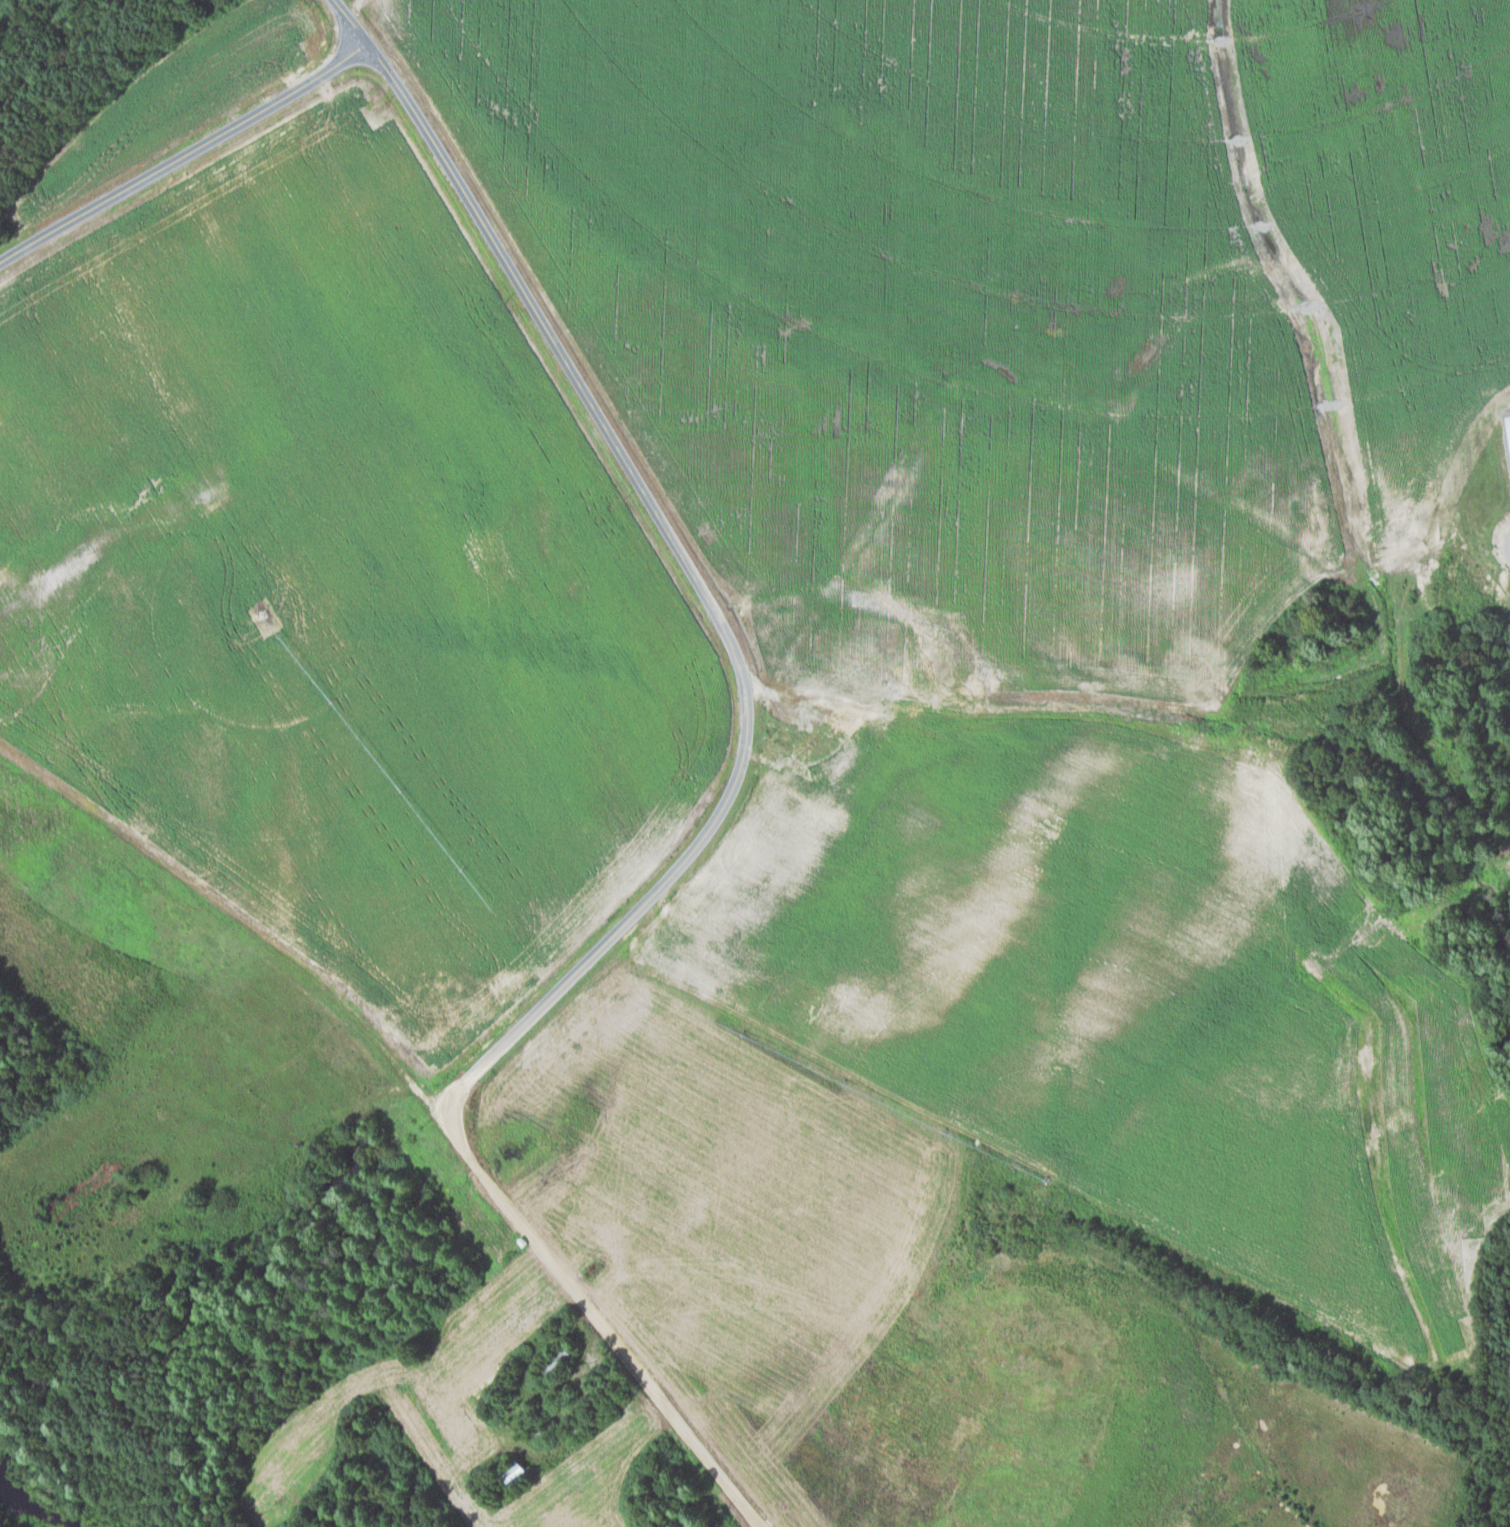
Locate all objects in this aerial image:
road: (185, 157)
building: (1507, 432)
road: (724, 811)

